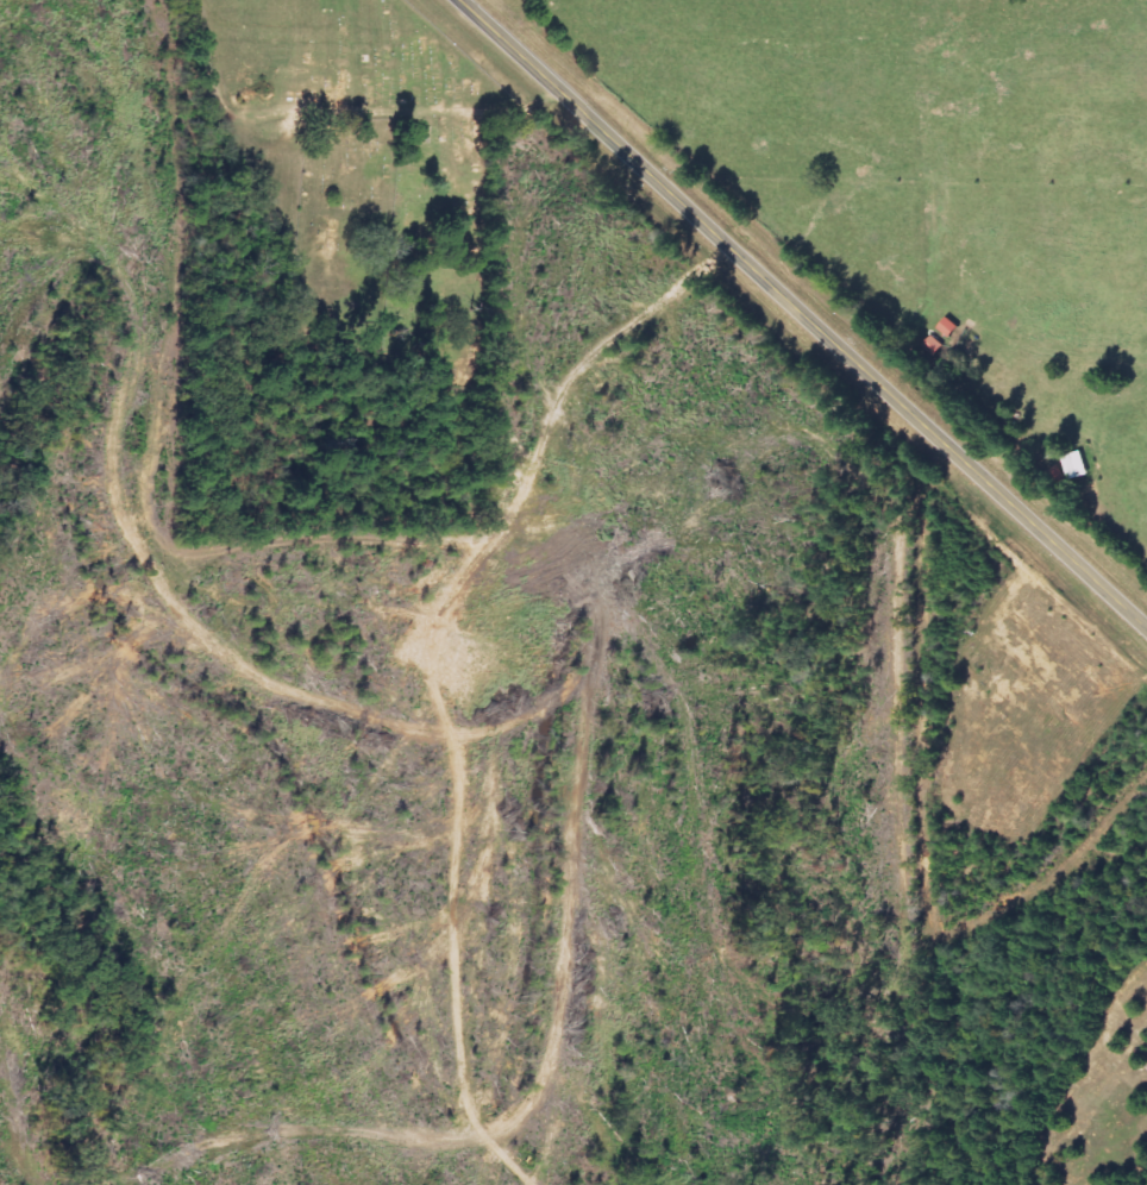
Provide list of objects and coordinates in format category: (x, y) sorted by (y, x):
park: (372, 152)
road: (250, 277)
road: (804, 313)

